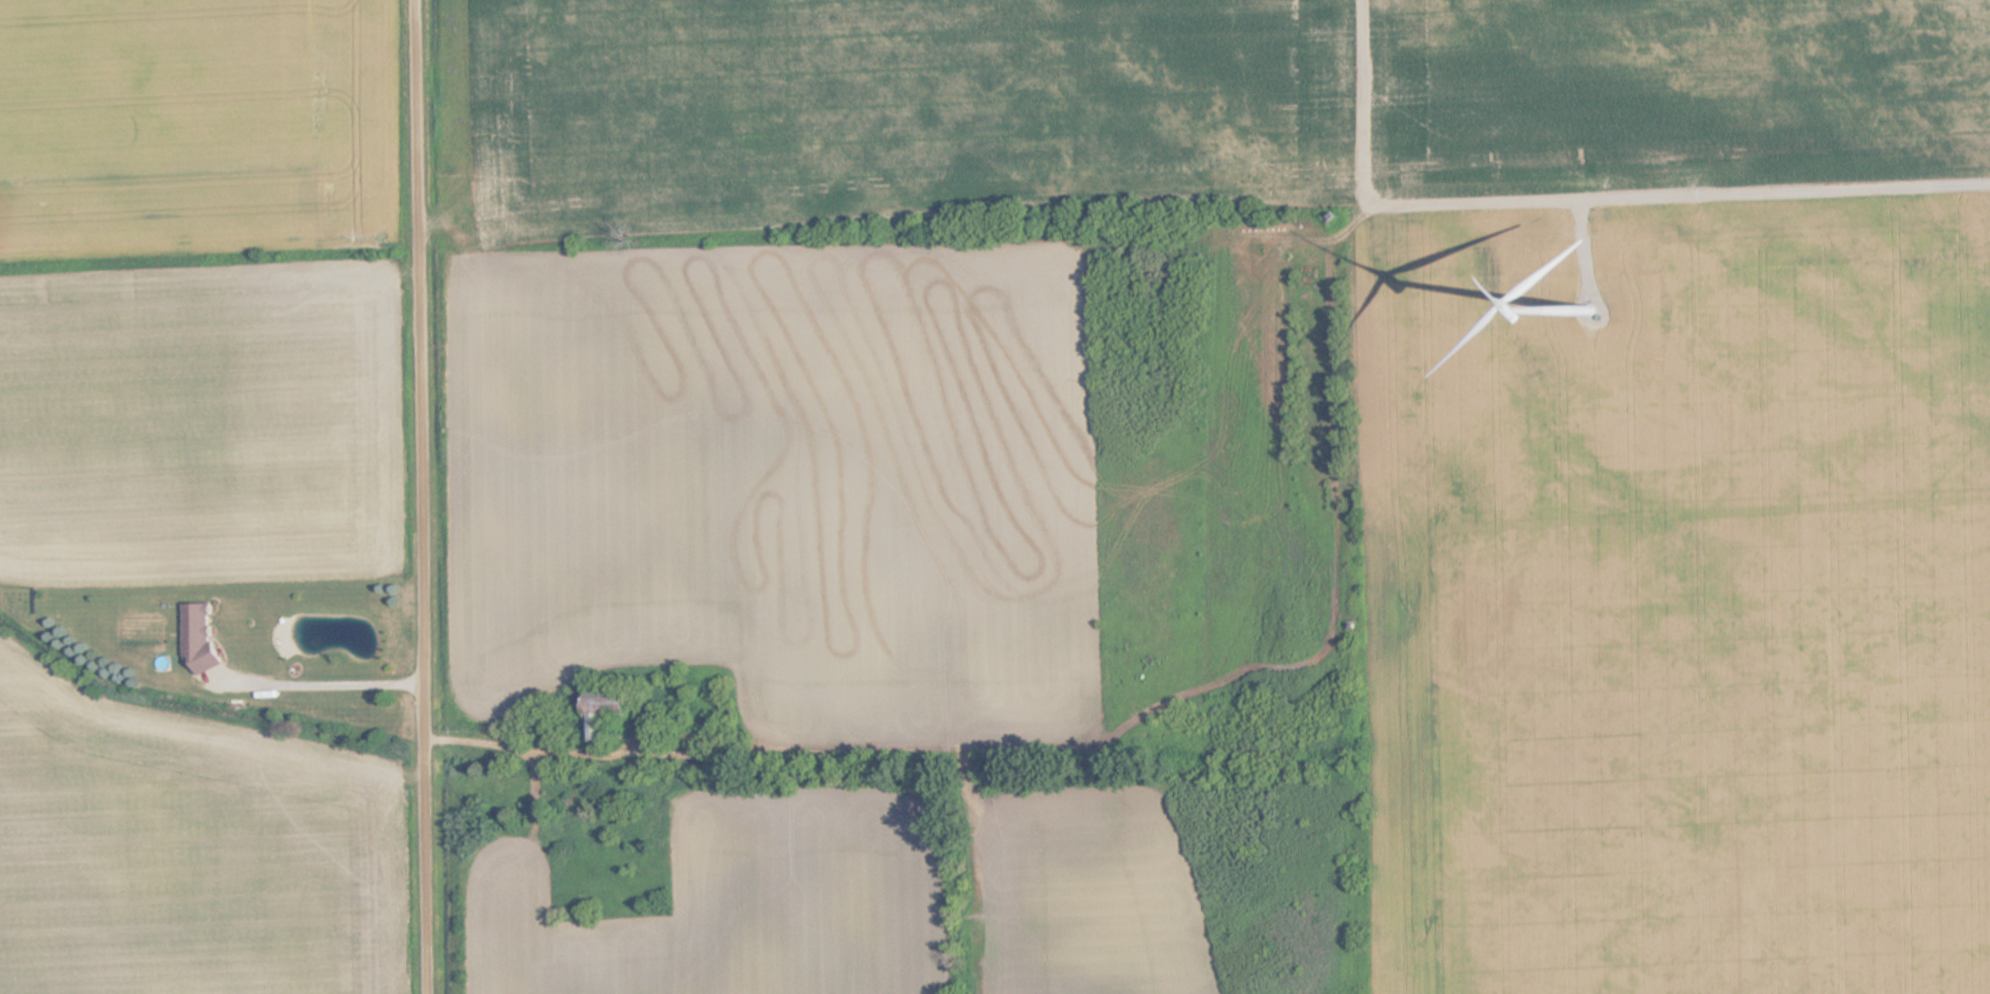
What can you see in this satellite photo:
road: (1579, 199)
wind turbine: (1605, 308)
road: (422, 497)
building: (204, 635)
building: (610, 711)

